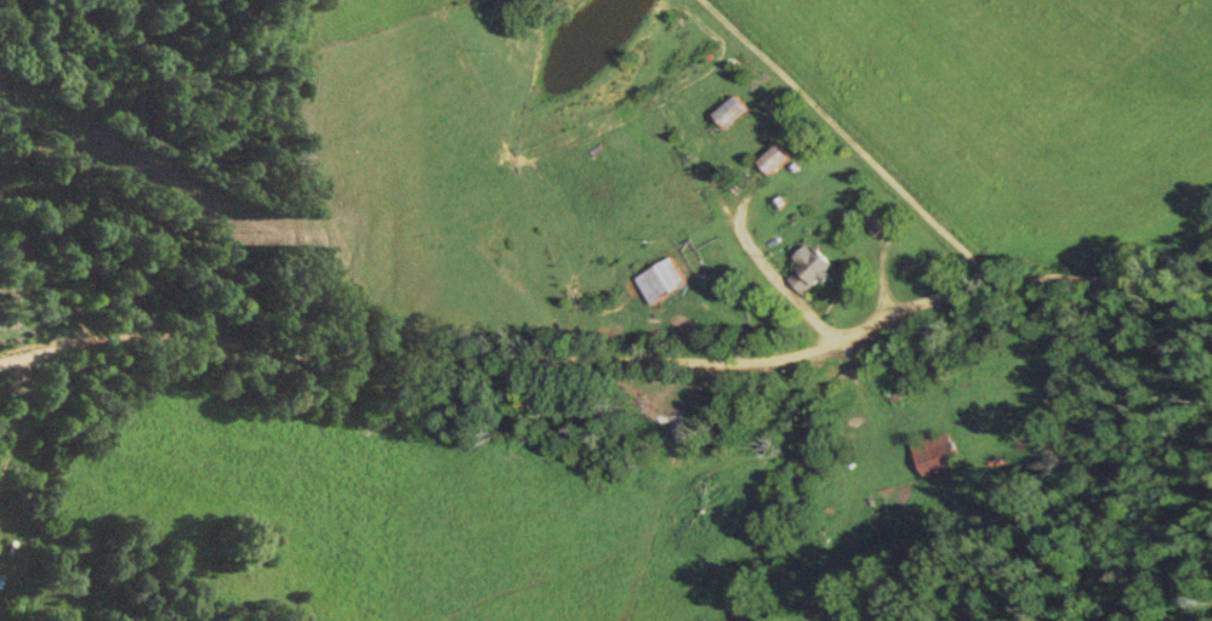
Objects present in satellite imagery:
building: (735, 113)
road: (859, 133)
building: (778, 160)
building: (813, 269)
building: (665, 281)
road: (601, 348)
building: (938, 456)

